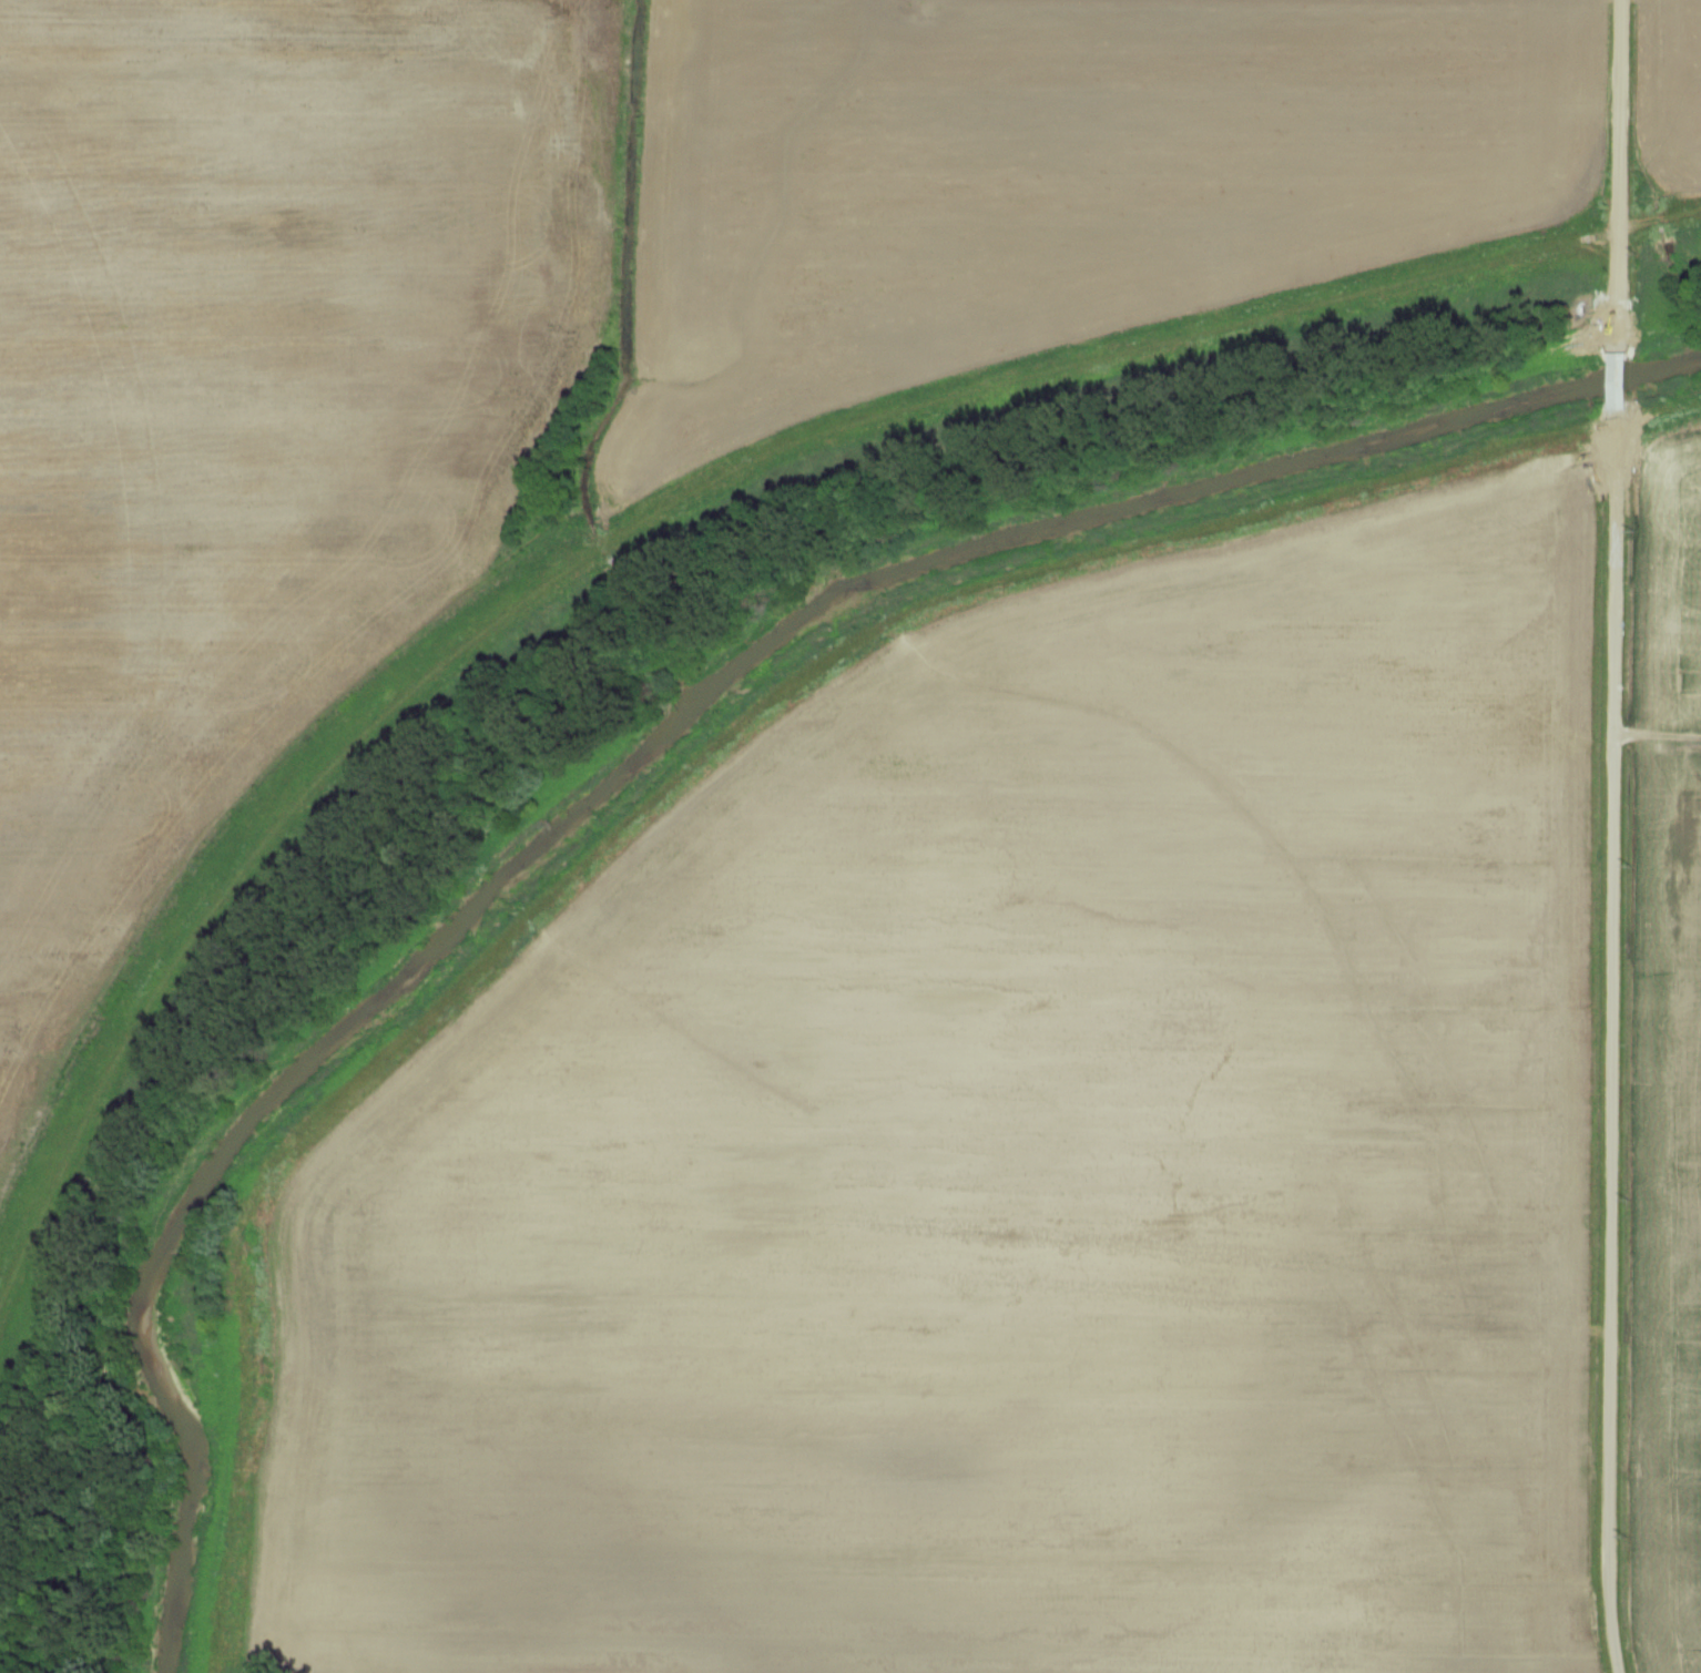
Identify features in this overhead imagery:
road: (1307, 4)
road: (1617, 176)
road: (1617, 381)
river: (650, 748)
road: (1659, 754)
road: (1616, 1041)

